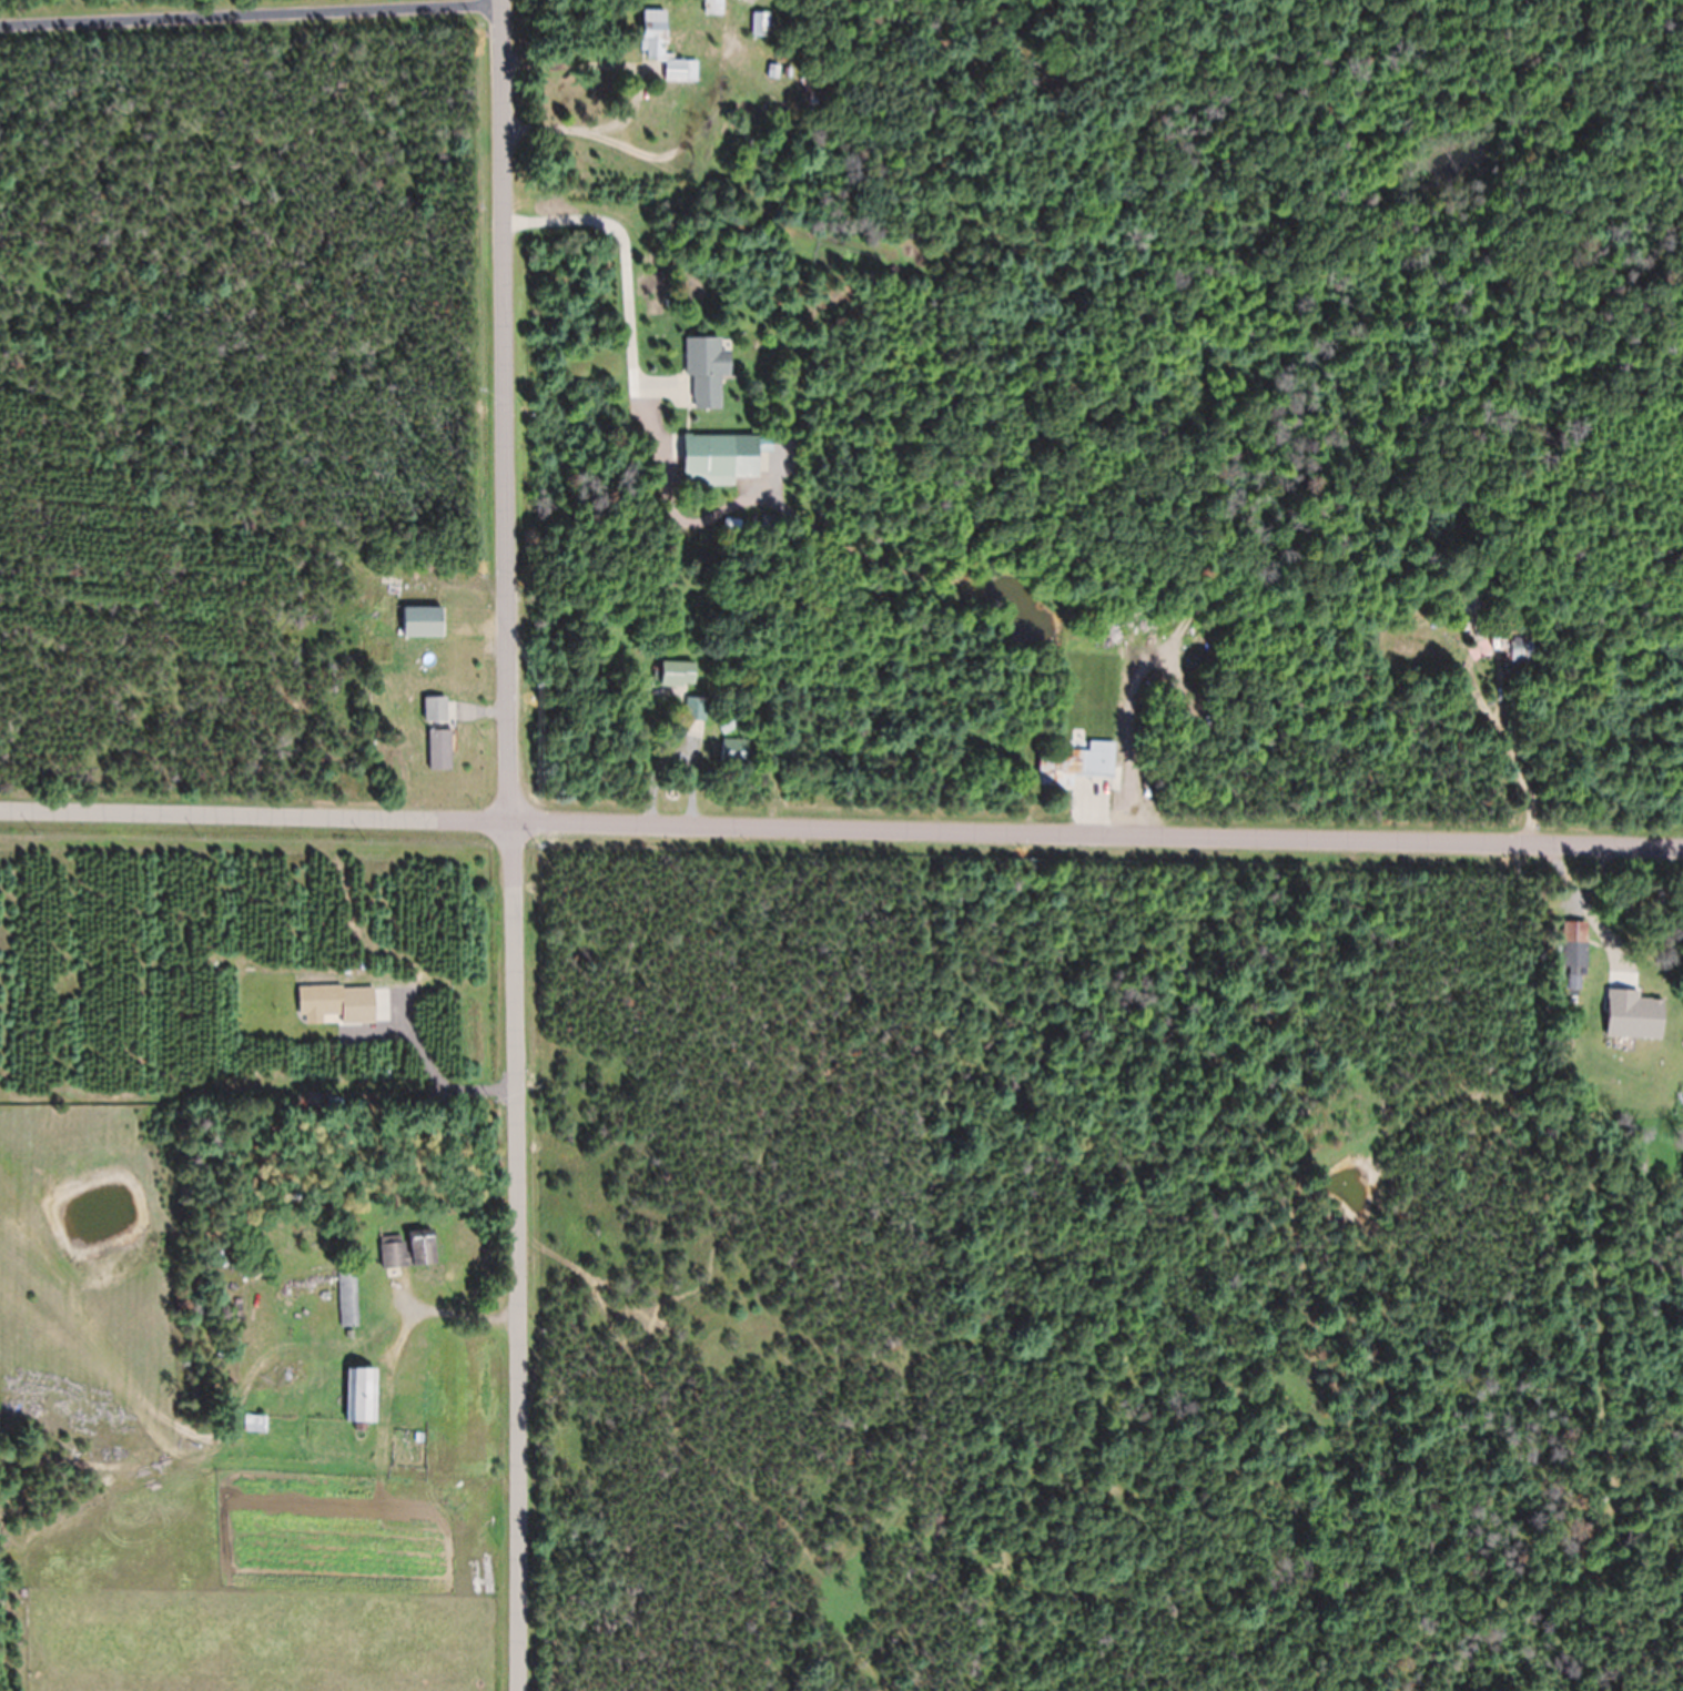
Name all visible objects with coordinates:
building: (750, 1)
building: (712, 7)
road: (251, 12)
building: (760, 22)
building: (663, 49)
building: (706, 371)
building: (708, 460)
building: (423, 622)
building: (1483, 634)
building: (677, 675)
building: (435, 709)
building: (696, 710)
building: (734, 746)
building: (439, 750)
building: (1076, 766)
road: (841, 829)
road: (514, 844)
building: (1574, 956)
building: (408, 1248)
building: (347, 1296)
building: (361, 1394)
building: (254, 1422)

